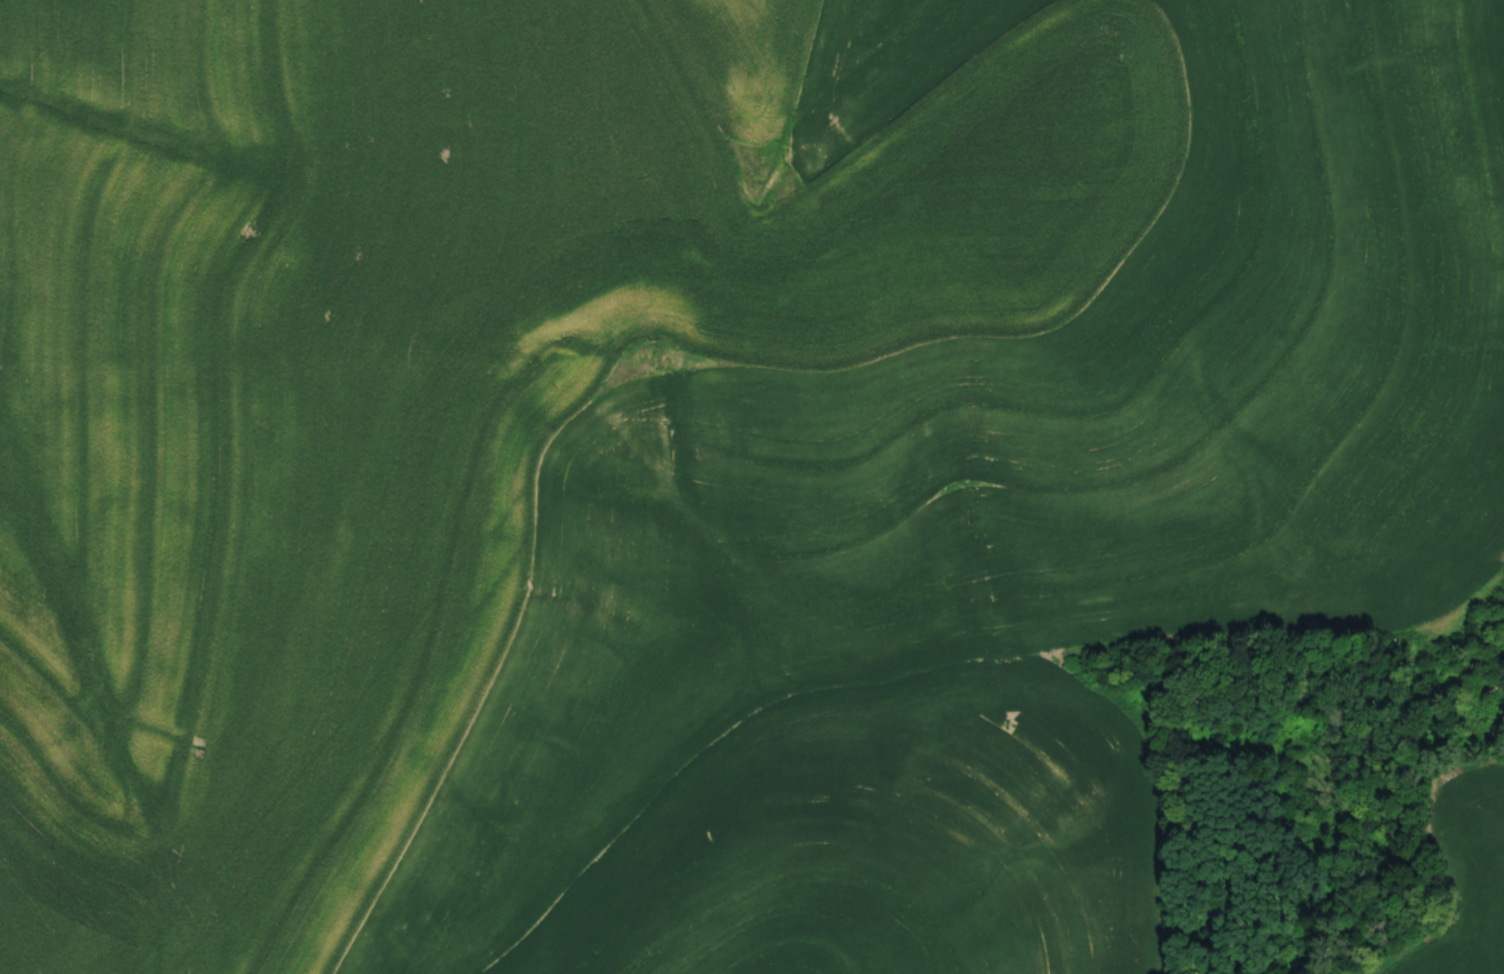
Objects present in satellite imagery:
crop: (700, 458)
crop: (1465, 873)

